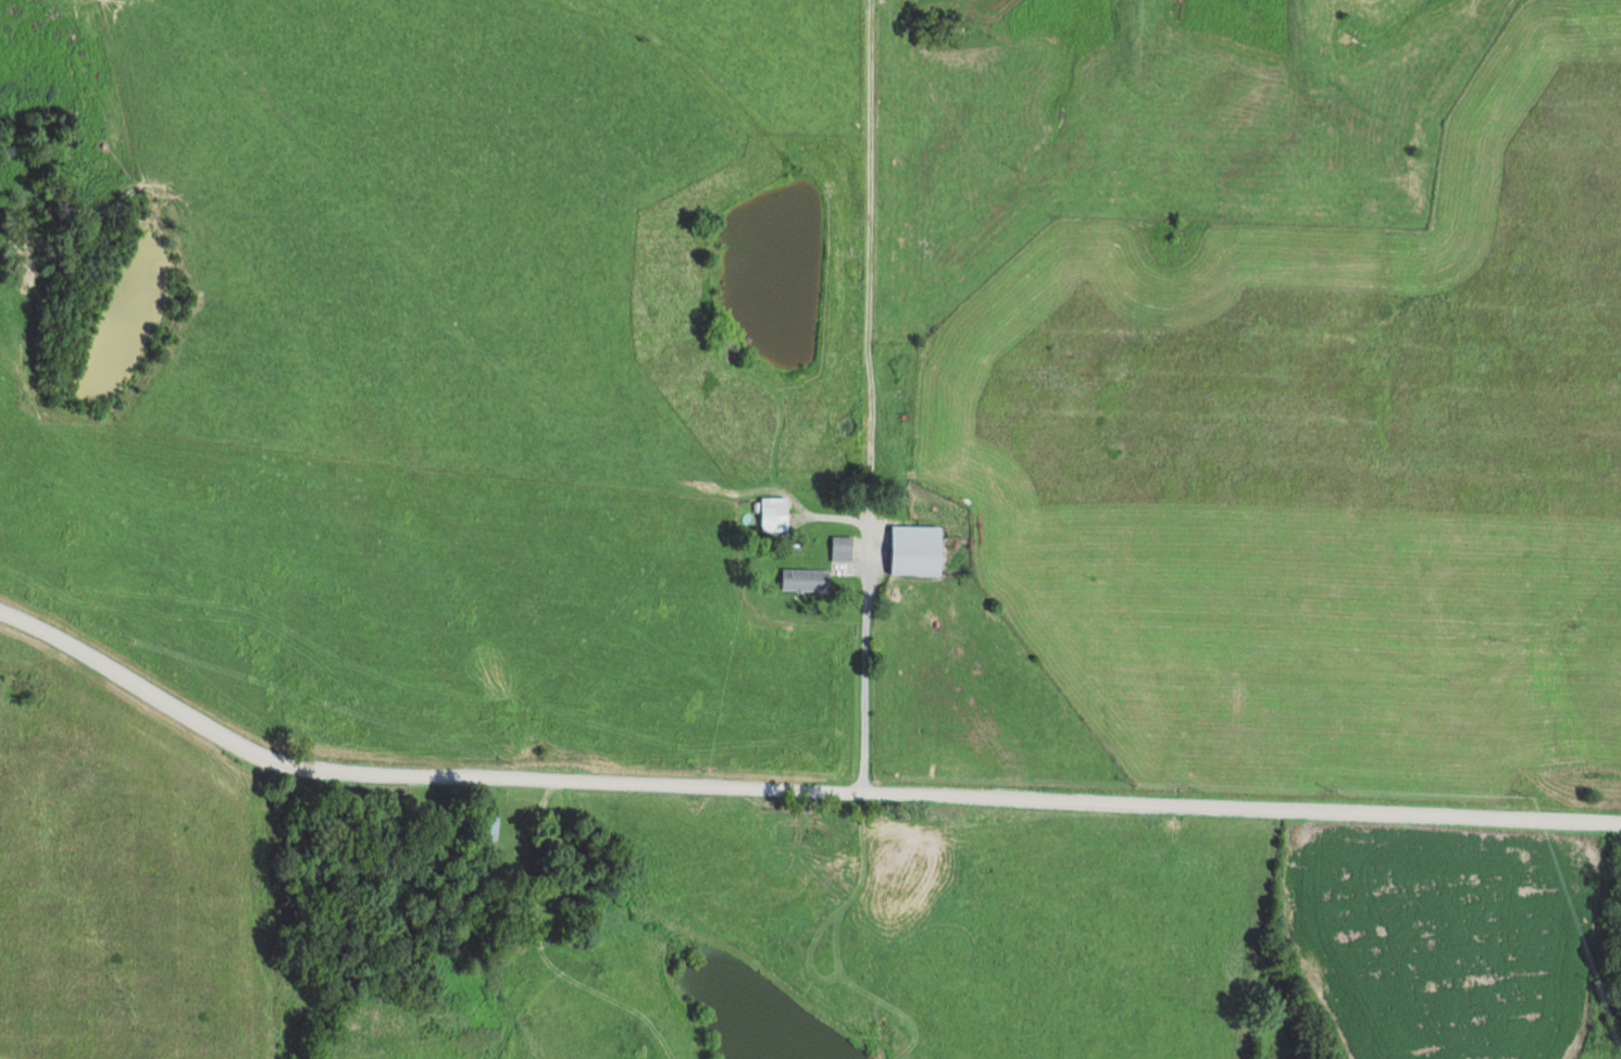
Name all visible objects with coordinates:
building: (843, 546)
building: (917, 548)
building: (805, 577)
road: (796, 802)
building: (489, 823)

